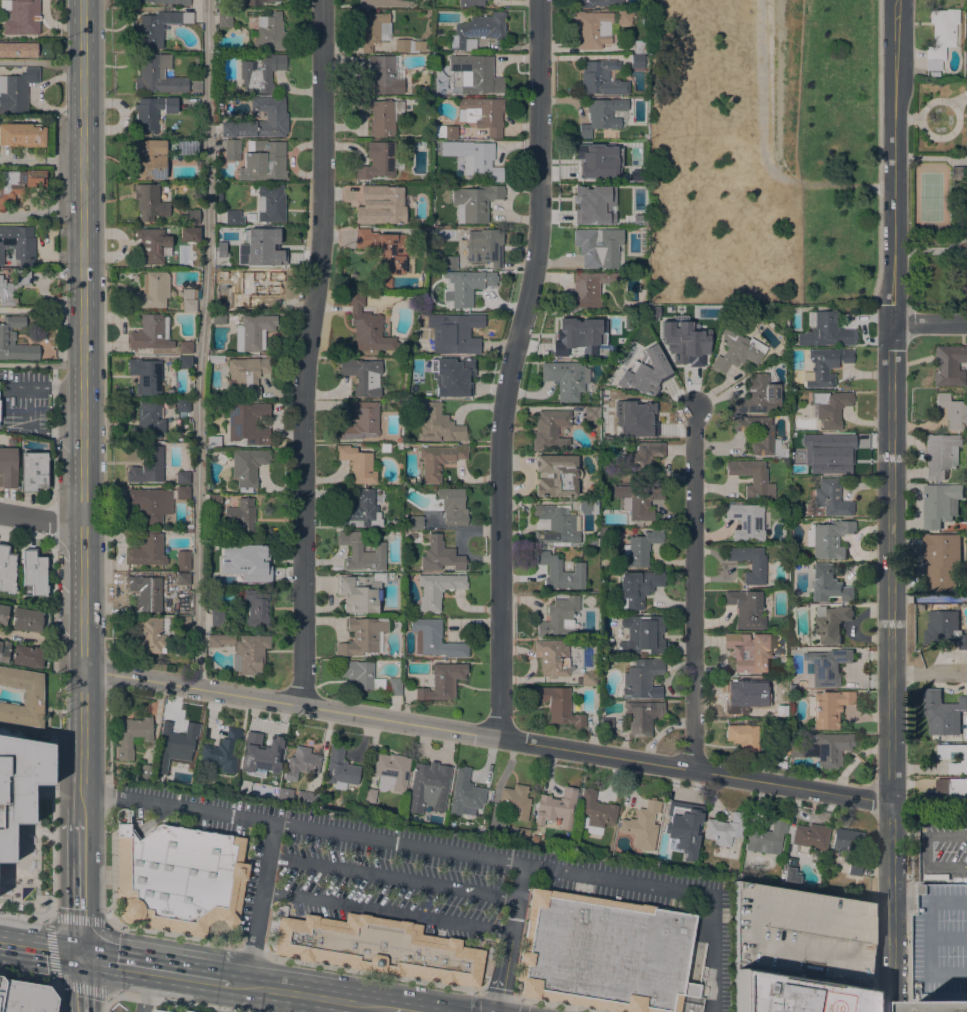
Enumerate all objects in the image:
building: (166, 2)
building: (257, 2)
building: (598, 2)
building: (384, 3)
building: (470, 3)
building: (20, 17)
building: (624, 17)
building: (224, 20)
building: (157, 27)
building: (592, 29)
building: (374, 30)
building: (477, 31)
building: (268, 33)
building: (940, 37)
building: (439, 41)
building: (408, 45)
building: (638, 47)
building: (18, 49)
building: (966, 57)
building: (636, 61)
building: (966, 68)
dam: (783, 70)
building: (260, 73)
building: (478, 74)
building: (157, 76)
building: (383, 76)
building: (602, 78)
road: (81, 80)
road: (776, 84)
building: (16, 90)
building: (152, 112)
building: (482, 114)
building: (379, 115)
building: (601, 115)
building: (276, 117)
building: (445, 131)
building: (22, 135)
building: (186, 146)
road: (763, 149)
building: (231, 150)
park: (837, 150)
park: (760, 151)
park: (760, 151)
building: (150, 159)
building: (478, 159)
road: (41, 160)
building: (376, 160)
building: (262, 161)
building: (602, 161)
building: (958, 173)
building: (18, 184)
building: (608, 201)
building: (474, 202)
building: (149, 203)
building: (270, 203)
building: (380, 204)
road: (40, 212)
building: (191, 217)
building: (232, 218)
building: (239, 232)
building: (189, 235)
building: (422, 235)
building: (17, 244)
building: (153, 245)
building: (484, 246)
building: (597, 247)
building: (384, 248)
building: (265, 249)
building: (226, 261)
building: (449, 262)
building: (254, 283)
building: (466, 286)
building: (12, 288)
building: (963, 288)
building: (588, 289)
building: (152, 291)
building: (188, 293)
building: (189, 305)
road: (40, 310)
building: (218, 318)
building: (623, 320)
road: (928, 323)
building: (368, 328)
building: (252, 332)
building: (826, 332)
building: (150, 333)
building: (453, 334)
building: (7, 335)
building: (578, 338)
building: (693, 340)
road: (201, 343)
building: (184, 347)
building: (736, 350)
road: (310, 352)
building: (215, 359)
building: (184, 362)
building: (948, 365)
building: (824, 366)
road: (515, 367)
building: (644, 372)
building: (244, 374)
building: (362, 375)
building: (146, 376)
building: (452, 376)
building: (565, 378)
building: (610, 380)
building: (757, 395)
road: (890, 400)
building: (415, 403)
building: (182, 405)
building: (830, 407)
road: (29, 408)
building: (953, 412)
building: (591, 413)
building: (631, 414)
building: (148, 421)
building: (361, 422)
building: (247, 423)
building: (438, 425)
building: (550, 430)
building: (606, 434)
building: (760, 435)
building: (398, 439)
building: (10, 441)
building: (213, 442)
building: (398, 446)
building: (940, 454)
building: (828, 455)
building: (643, 457)
building: (220, 458)
building: (438, 460)
building: (357, 463)
building: (148, 466)
building: (8, 467)
building: (247, 467)
building: (33, 471)
building: (556, 475)
building: (182, 477)
building: (752, 478)
road: (82, 489)
building: (182, 492)
building: (831, 498)
building: (639, 500)
building: (213, 502)
building: (941, 504)
building: (150, 505)
building: (452, 506)
building: (586, 506)
building: (360, 510)
building: (240, 516)
road: (40, 520)
building: (413, 522)
building: (746, 522)
building: (554, 526)
building: (187, 528)
building: (828, 539)
building: (595, 541)
building: (640, 548)
building: (147, 550)
building: (360, 552)
building: (440, 555)
building: (182, 560)
building: (942, 561)
building: (244, 562)
building: (757, 566)
building: (6, 569)
building: (33, 571)
building: (560, 572)
building: (183, 579)
building: (829, 584)
building: (637, 588)
building: (436, 589)
road: (694, 590)
building: (146, 593)
building: (358, 593)
building: (256, 607)
building: (745, 609)
building: (3, 615)
building: (559, 617)
building: (216, 618)
building: (26, 620)
building: (183, 622)
building: (831, 622)
building: (945, 628)
building: (152, 635)
building: (641, 635)
building: (363, 637)
building: (434, 639)
building: (220, 640)
building: (748, 650)
building: (4, 651)
building: (249, 654)
building: (27, 656)
building: (552, 658)
building: (825, 666)
road: (929, 673)
building: (361, 675)
building: (588, 678)
building: (641, 679)
building: (442, 682)
building: (394, 686)
building: (752, 693)
building: (22, 697)
building: (558, 705)
building: (827, 707)
building: (943, 712)
building: (642, 716)
road: (51, 720)
building: (606, 724)
building: (132, 735)
road: (485, 735)
building: (743, 737)
building: (174, 745)
building: (782, 747)
building: (825, 748)
building: (223, 749)
building: (261, 754)
building: (954, 756)
building: (301, 763)
building: (340, 769)
building: (145, 771)
building: (390, 771)
building: (186, 779)
building: (19, 784)
building: (428, 787)
building: (954, 790)
building: (465, 792)
building: (284, 795)
building: (369, 795)
building: (307, 797)
building: (515, 801)
building: (556, 808)
building: (596, 812)
road: (890, 817)
building: (642, 825)
building: (680, 826)
building: (724, 829)
road: (908, 833)
building: (522, 834)
road: (946, 834)
building: (809, 835)
building: (766, 838)
building: (848, 847)
road: (452, 851)
building: (789, 863)
road: (932, 864)
building: (789, 875)
road: (392, 877)
building: (179, 880)
road: (81, 887)
road: (259, 903)
road: (386, 910)
road: (24, 915)
road: (891, 922)
road: (909, 922)
road: (168, 934)
road: (509, 938)
road: (51, 947)
building: (380, 948)
road: (40, 950)
building: (604, 953)
building: (794, 954)
traffic signals: (82, 956)
road: (156, 969)
road: (29, 975)
road: (82, 984)
road: (485, 993)
road: (310, 995)
building: (25, 997)
road: (106, 1002)
road: (171, 1002)
road: (555, 1004)
building: (943, 1005)
road: (520, 1007)
road: (368, 1008)
building: (157, 1010)
road: (402, 1010)
building: (185, 1011)

